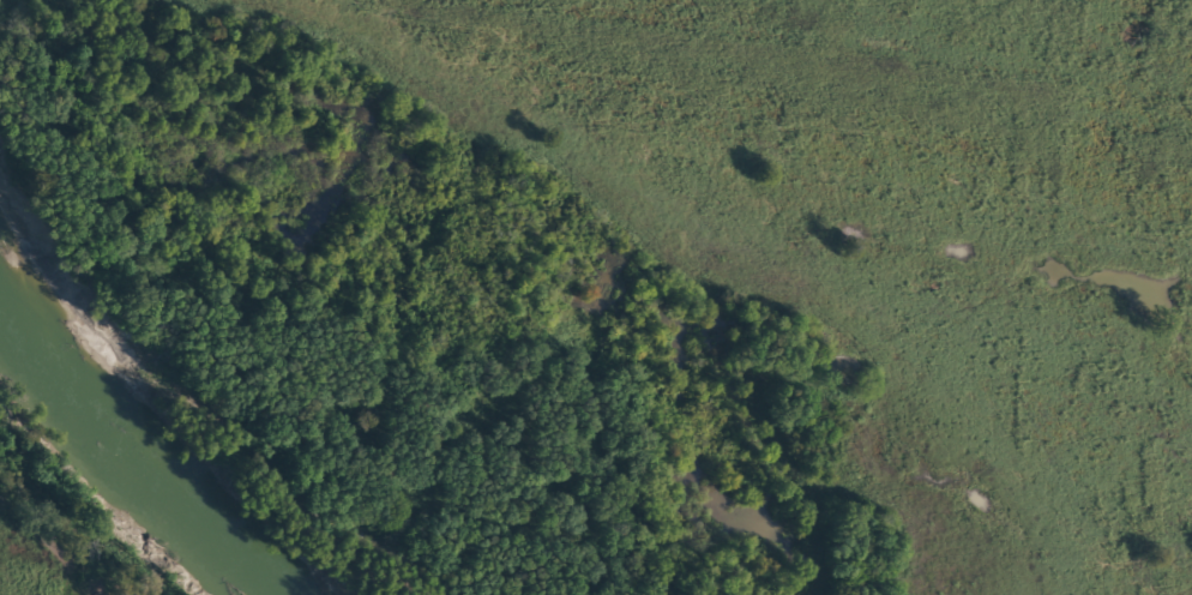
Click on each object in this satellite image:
river: (158, 451)

